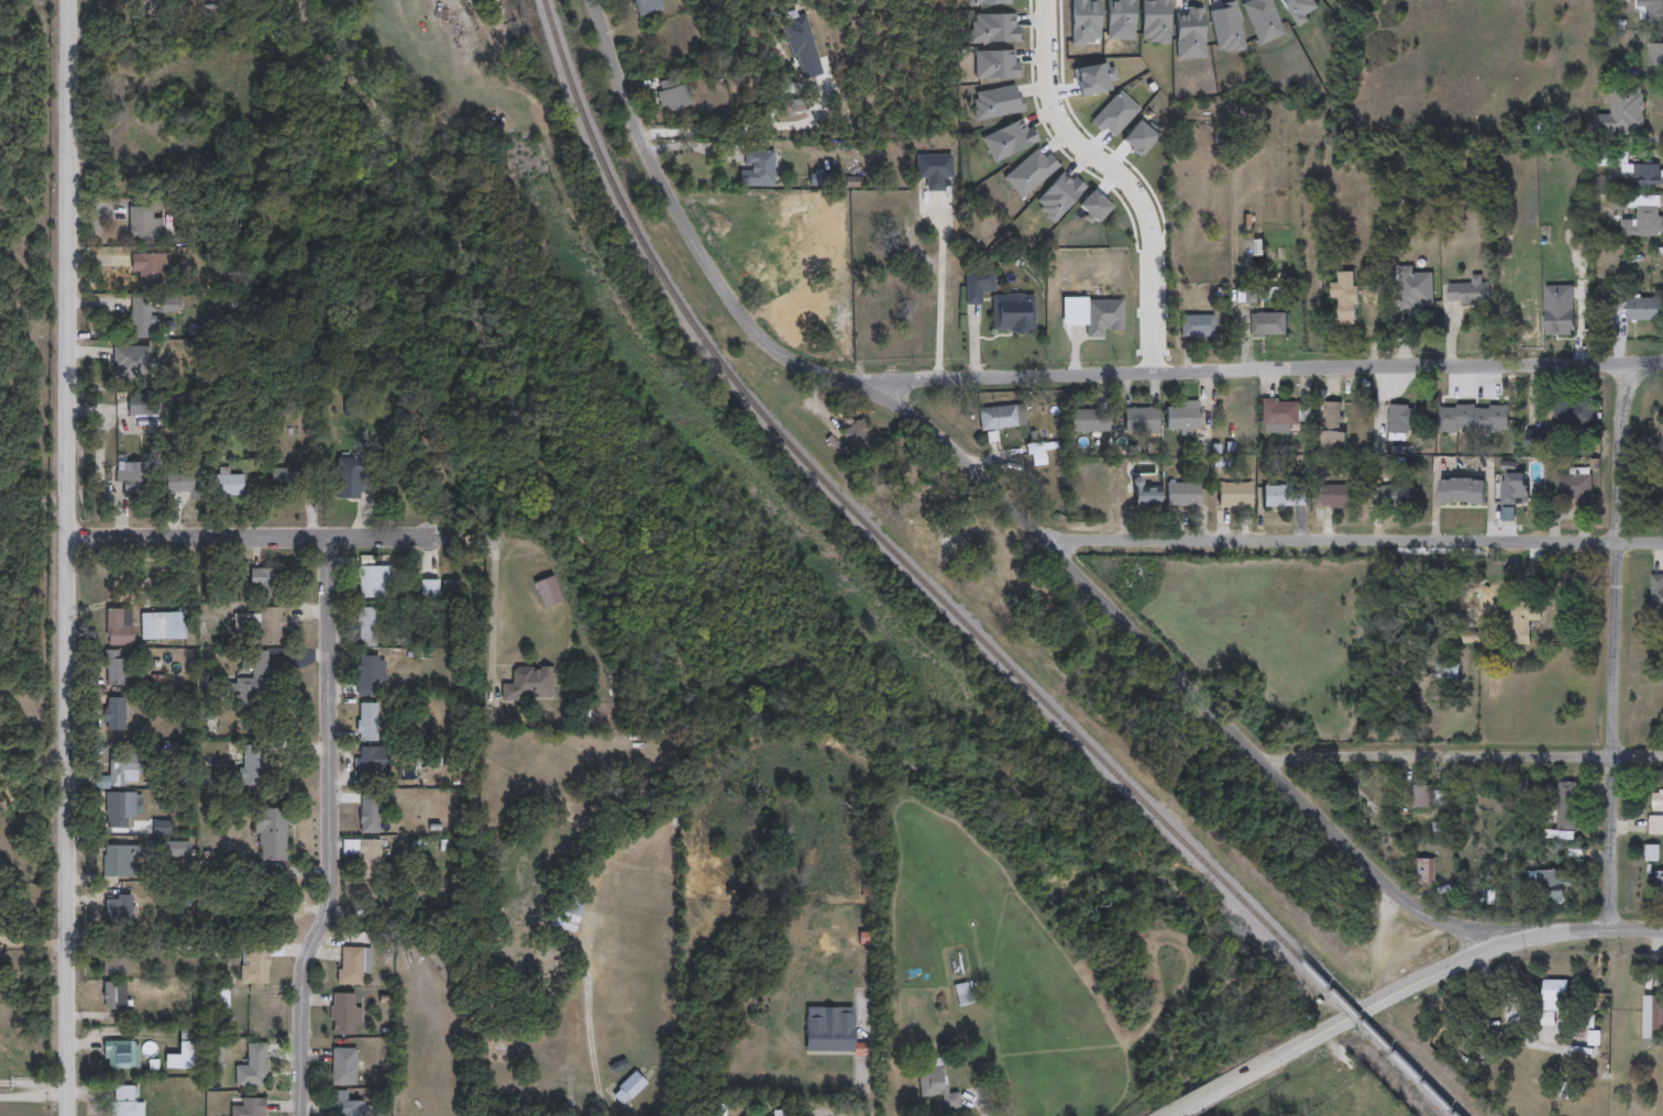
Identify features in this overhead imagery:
building: (1625, 1)
building: (647, 5)
building: (1651, 9)
building: (803, 47)
building: (1655, 56)
building: (673, 93)
building: (1622, 111)
road: (747, 126)
building: (757, 168)
building: (933, 169)
road: (1116, 175)
building: (1647, 176)
building: (1639, 216)
building: (792, 273)
building: (978, 284)
road: (950, 290)
building: (1413, 290)
building: (1468, 292)
building: (1247, 295)
building: (1372, 295)
building: (1344, 298)
road: (1581, 301)
building: (1641, 310)
building: (1013, 313)
building: (1102, 317)
building: (1268, 324)
building: (1197, 325)
landfill: (19, 357)
road: (1269, 367)
building: (1573, 411)
building: (1281, 416)
building: (1001, 417)
building: (1181, 418)
building: (1142, 420)
building: (1473, 420)
building: (1089, 421)
building: (1401, 421)
building: (1331, 427)
building: (858, 437)
building: (346, 482)
building: (1513, 489)
building: (1461, 491)
building: (1573, 491)
road: (999, 494)
building: (1234, 494)
building: (1182, 495)
building: (1284, 496)
building: (1339, 497)
building: (1392, 497)
building: (1146, 499)
road: (251, 537)
road: (1352, 541)
road: (68, 545)
building: (372, 581)
road: (497, 586)
building: (429, 588)
railway: (943, 597)
building: (1521, 617)
building: (366, 628)
road: (1615, 645)
building: (365, 676)
building: (528, 684)
building: (366, 722)
road: (1464, 756)
road: (32, 759)
building: (370, 763)
building: (1521, 794)
building: (1420, 798)
building: (1439, 799)
building: (1361, 802)
building: (1562, 810)
building: (367, 814)
building: (1656, 814)
road: (329, 828)
building: (364, 855)
building: (1421, 872)
building: (1550, 886)
building: (1658, 887)
building: (568, 914)
road: (1576, 931)
road: (32, 938)
building: (352, 963)
building: (1548, 992)
building: (966, 993)
building: (342, 1014)
building: (1653, 1017)
road: (1329, 1029)
building: (829, 1034)
road: (873, 1064)
building: (342, 1068)
building: (936, 1086)
building: (627, 1089)
road: (33, 1094)
road: (66, 1104)
building: (345, 1105)
road: (974, 1106)

